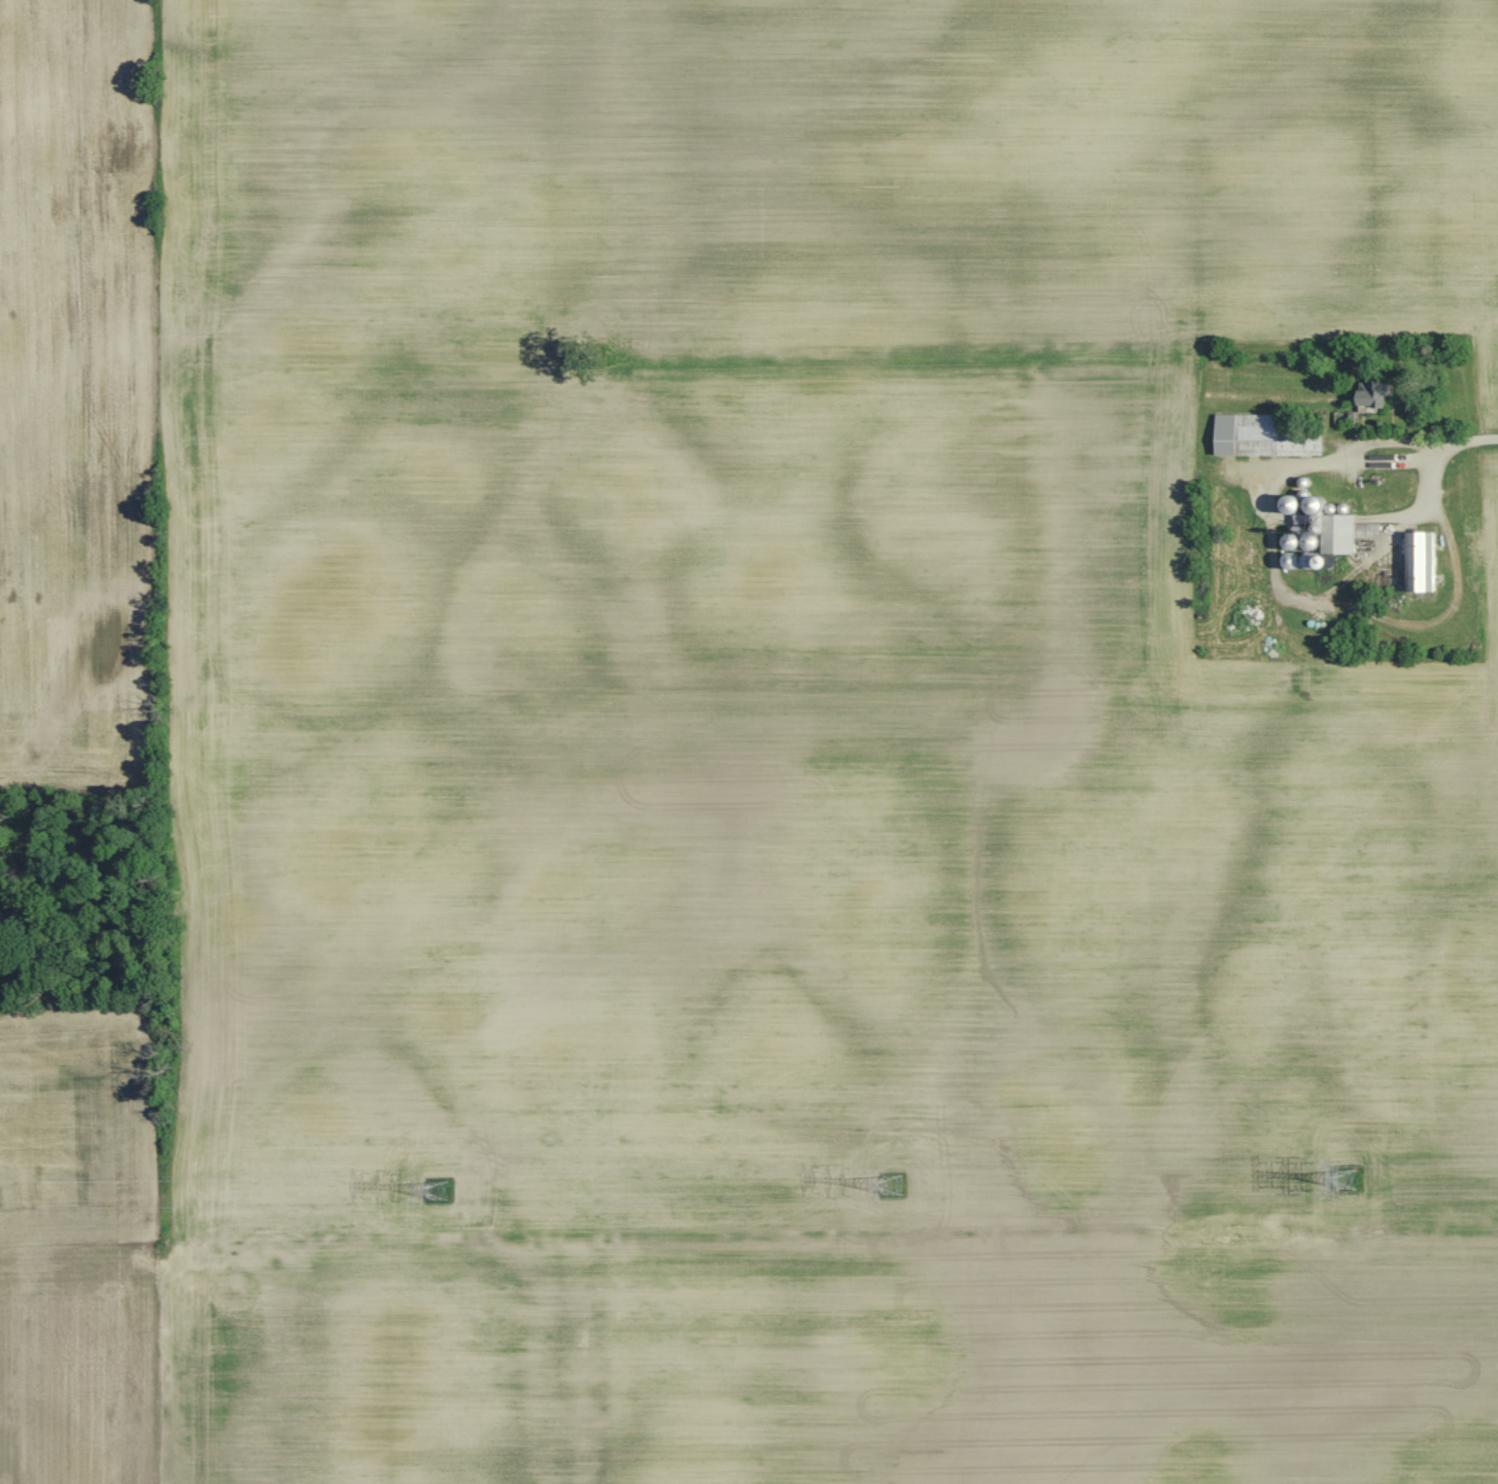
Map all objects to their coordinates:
building: (1375, 395)
building: (1258, 437)
road: (1377, 458)
building: (1343, 534)
building: (1421, 561)
power tower: (1344, 1181)
power tower: (891, 1187)
power tower: (440, 1191)

